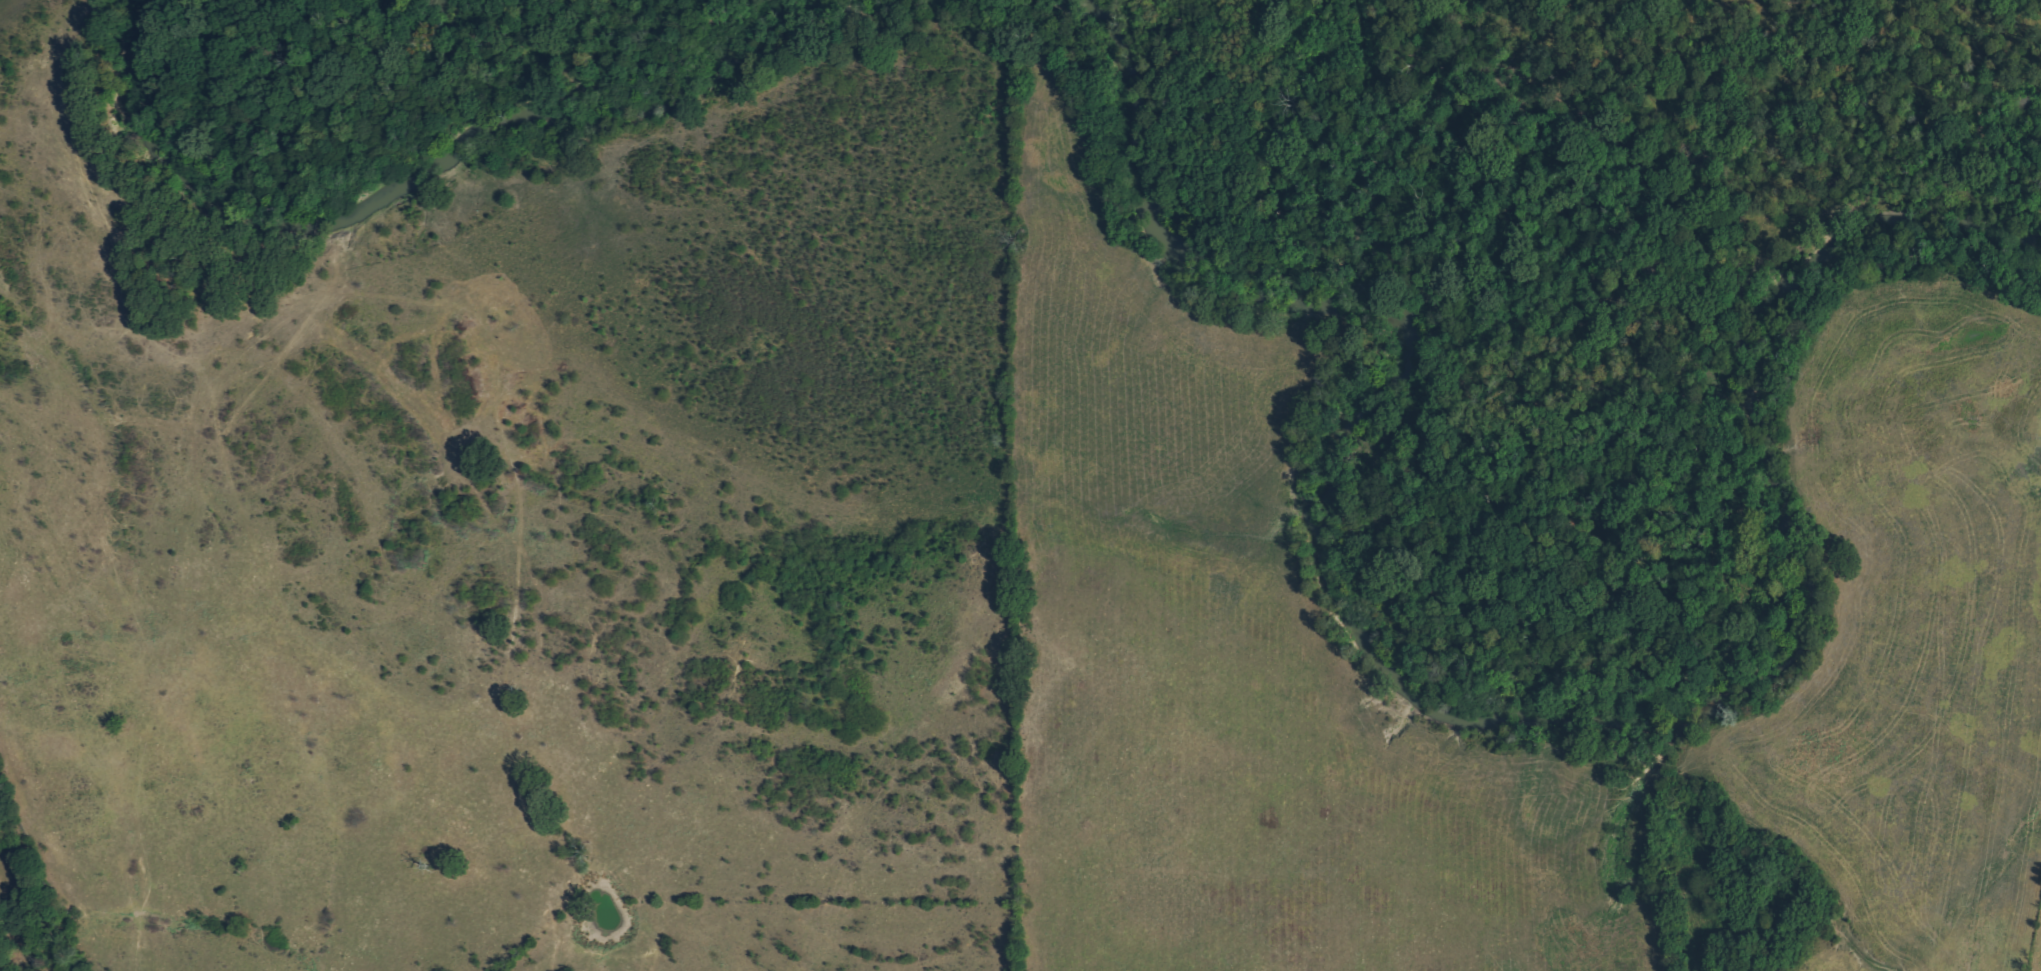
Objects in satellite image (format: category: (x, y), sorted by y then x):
river: (390, 188)
river: (1473, 715)

